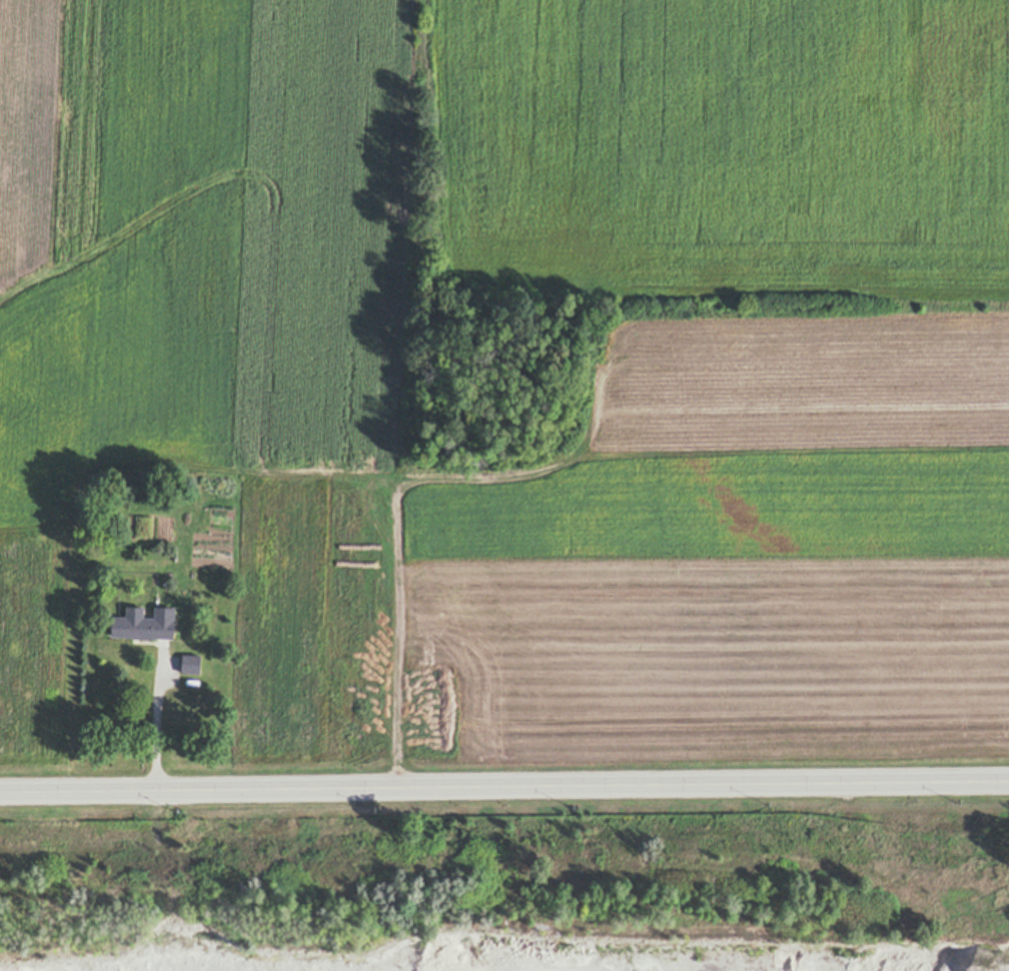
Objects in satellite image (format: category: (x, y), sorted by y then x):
building: (553, 412)
building: (175, 555)
building: (193, 574)
building: (168, 577)
building: (146, 623)
building: (191, 663)
road: (154, 716)
road: (504, 787)
quarry: (494, 949)

